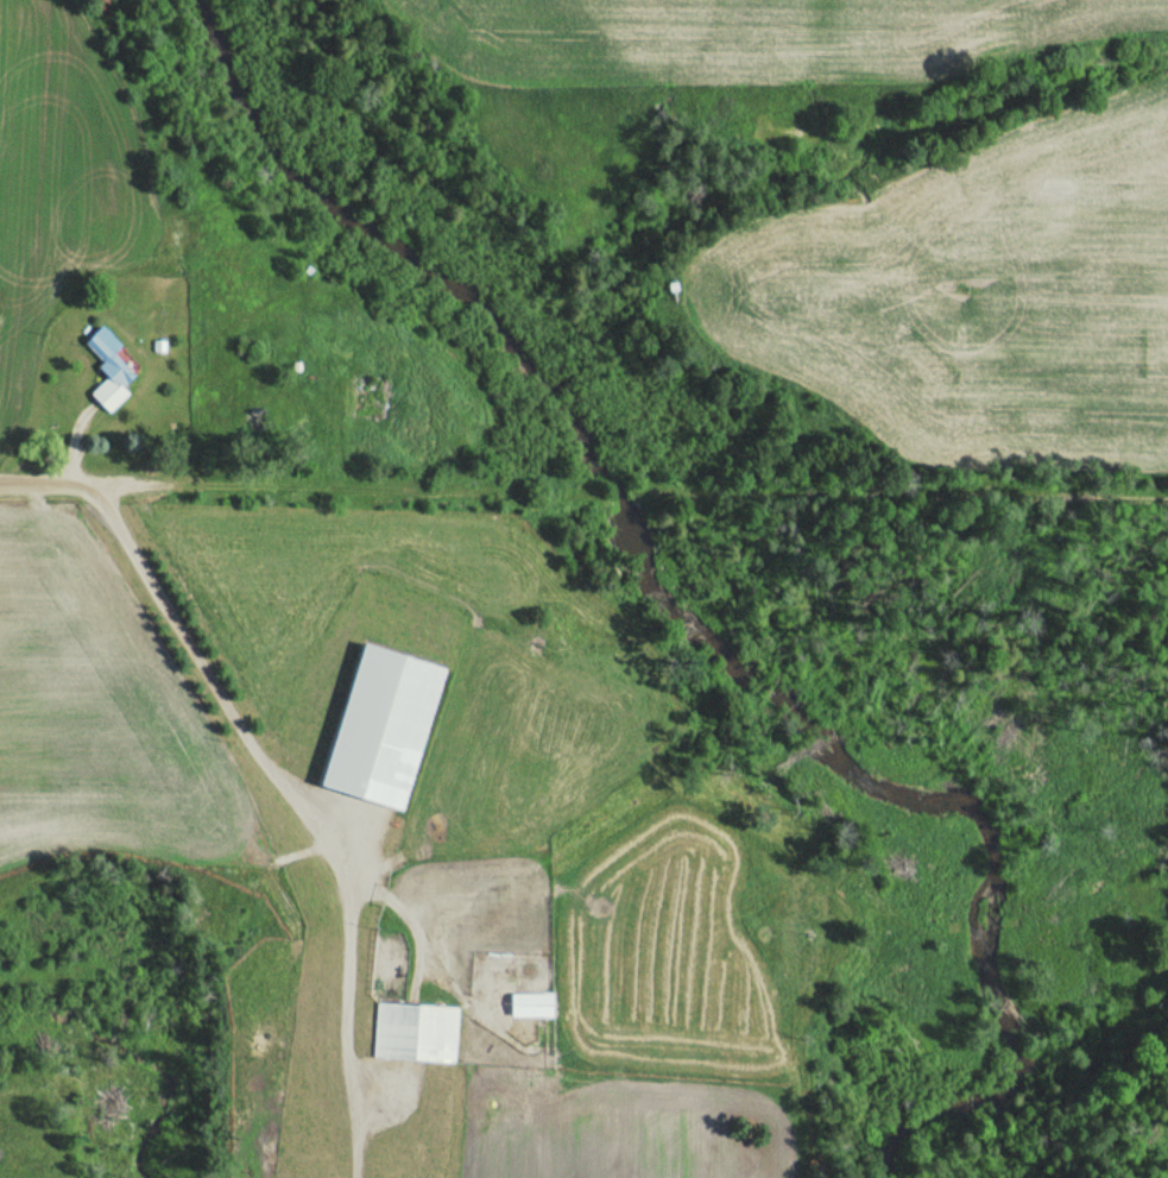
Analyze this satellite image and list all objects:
building: (108, 368)
road: (93, 481)
road: (909, 491)
river: (693, 625)
building: (427, 644)
building: (416, 1031)

